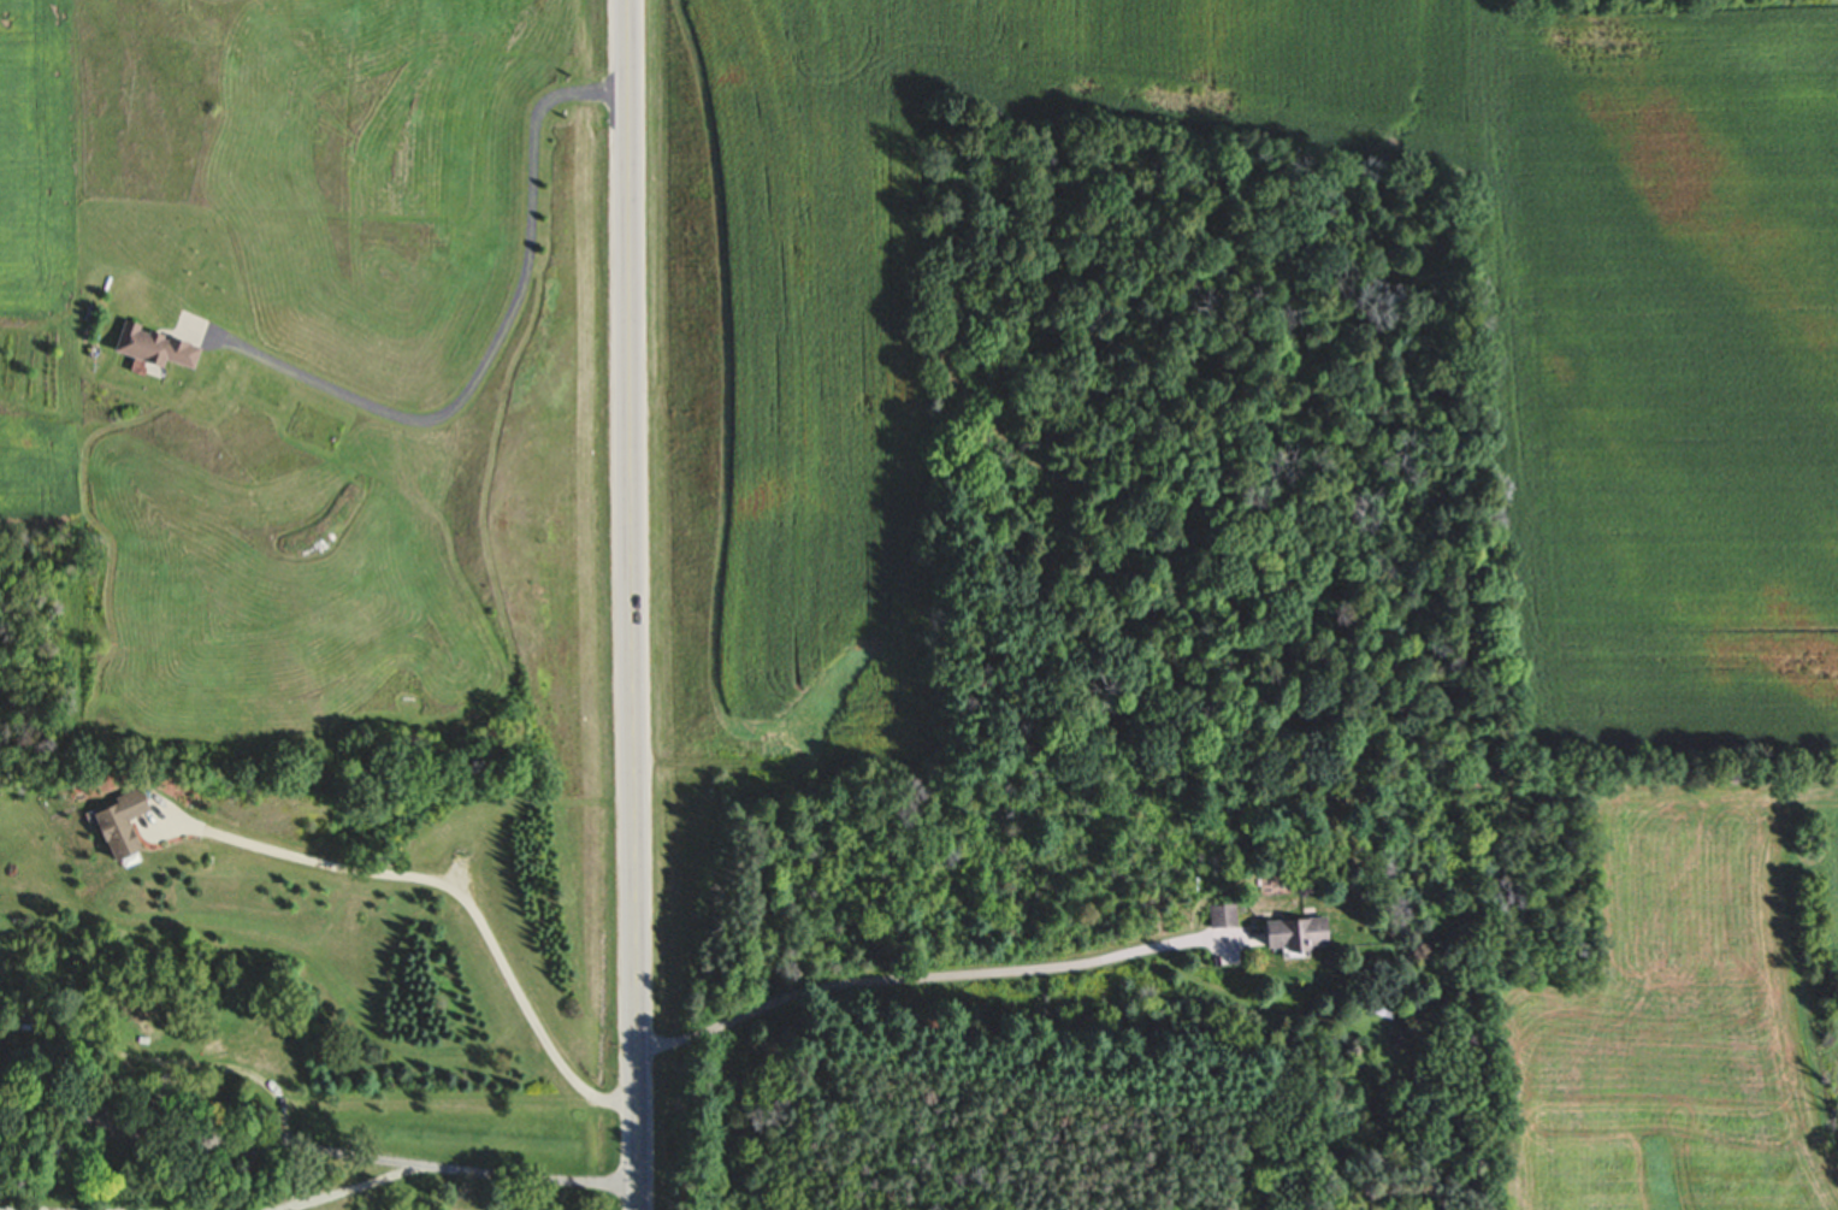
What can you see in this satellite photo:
road: (494, 343)
building: (164, 347)
road: (634, 604)
building: (128, 825)
road: (461, 889)
building: (1304, 935)
road: (939, 973)
building: (28, 1019)
road: (380, 1102)
road: (454, 1168)
road: (2, 1209)

